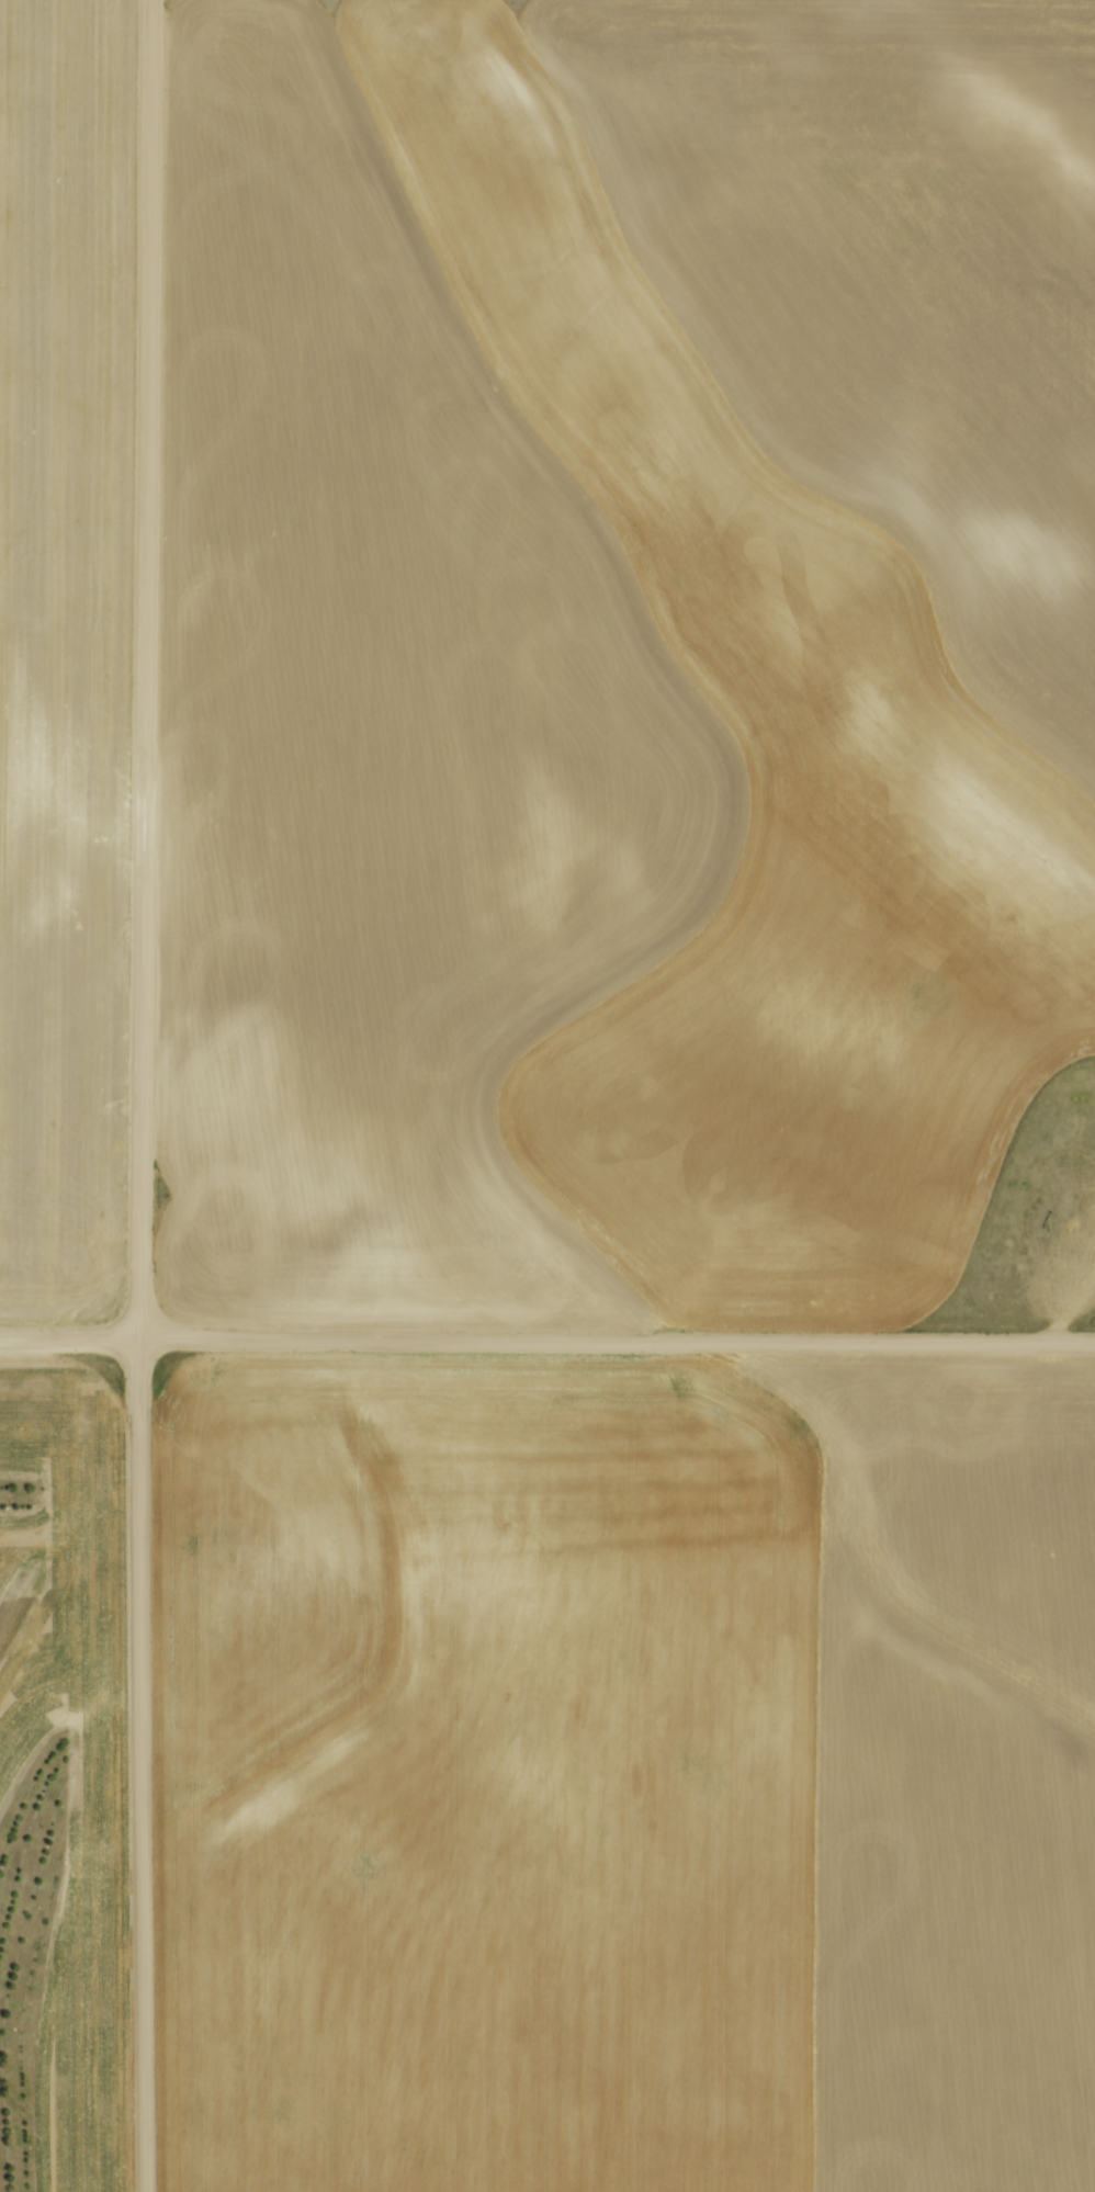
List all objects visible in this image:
crop: (64, 644)
crop: (620, 648)
road: (143, 1095)
road: (70, 1337)
road: (618, 1337)
crop: (623, 1772)

